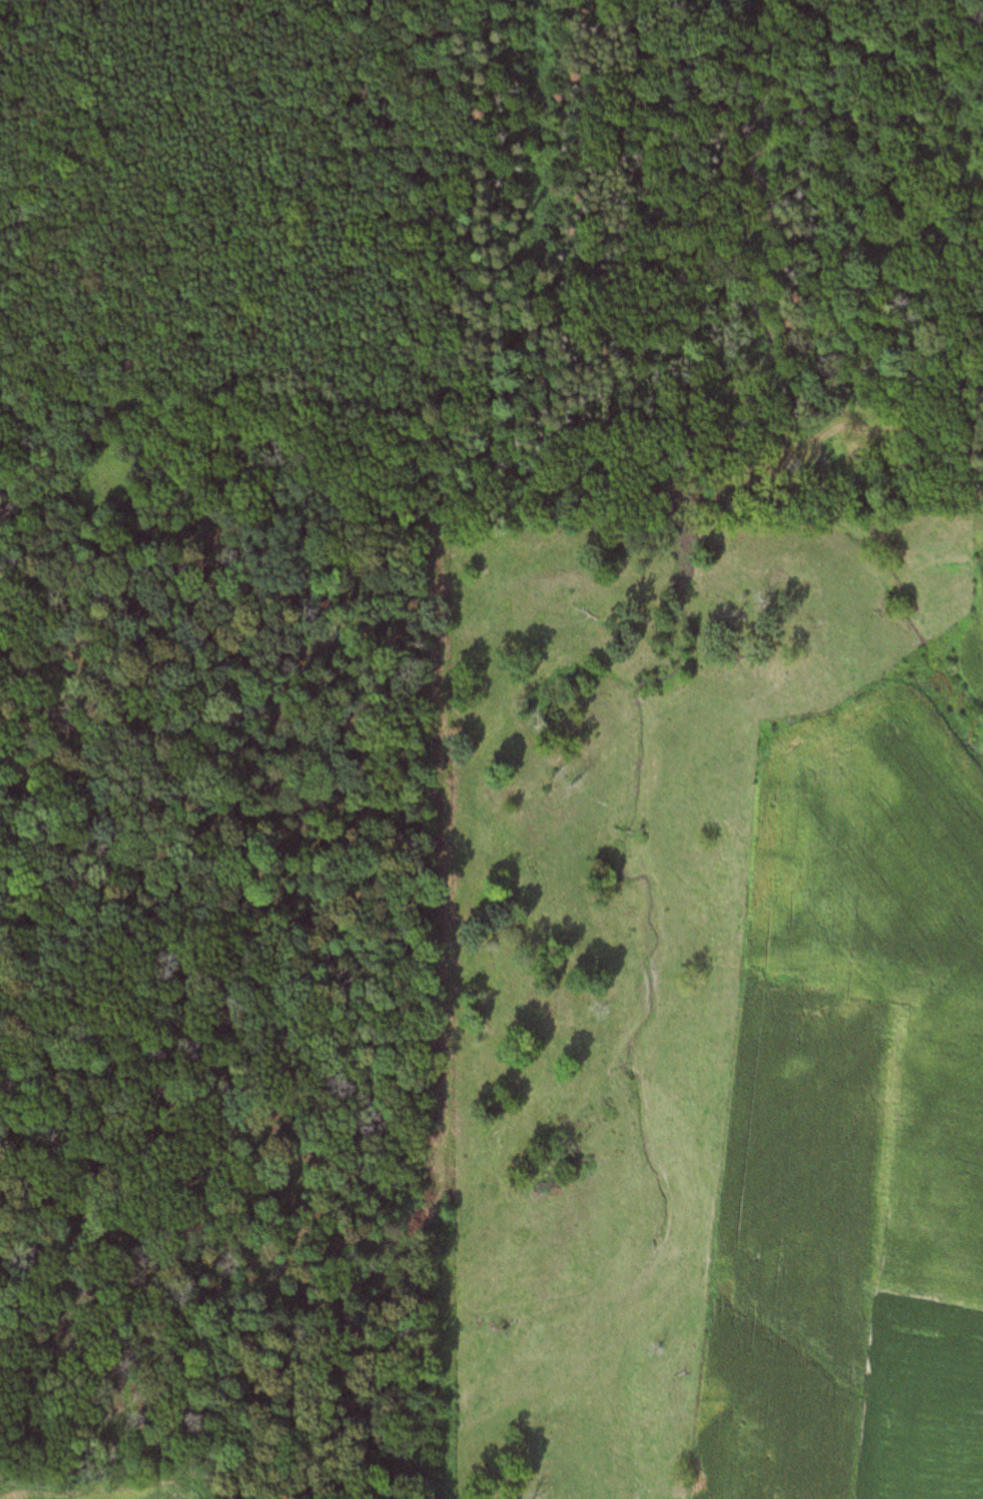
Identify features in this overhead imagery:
road: (219, 290)
building: (117, 503)
road: (216, 529)

